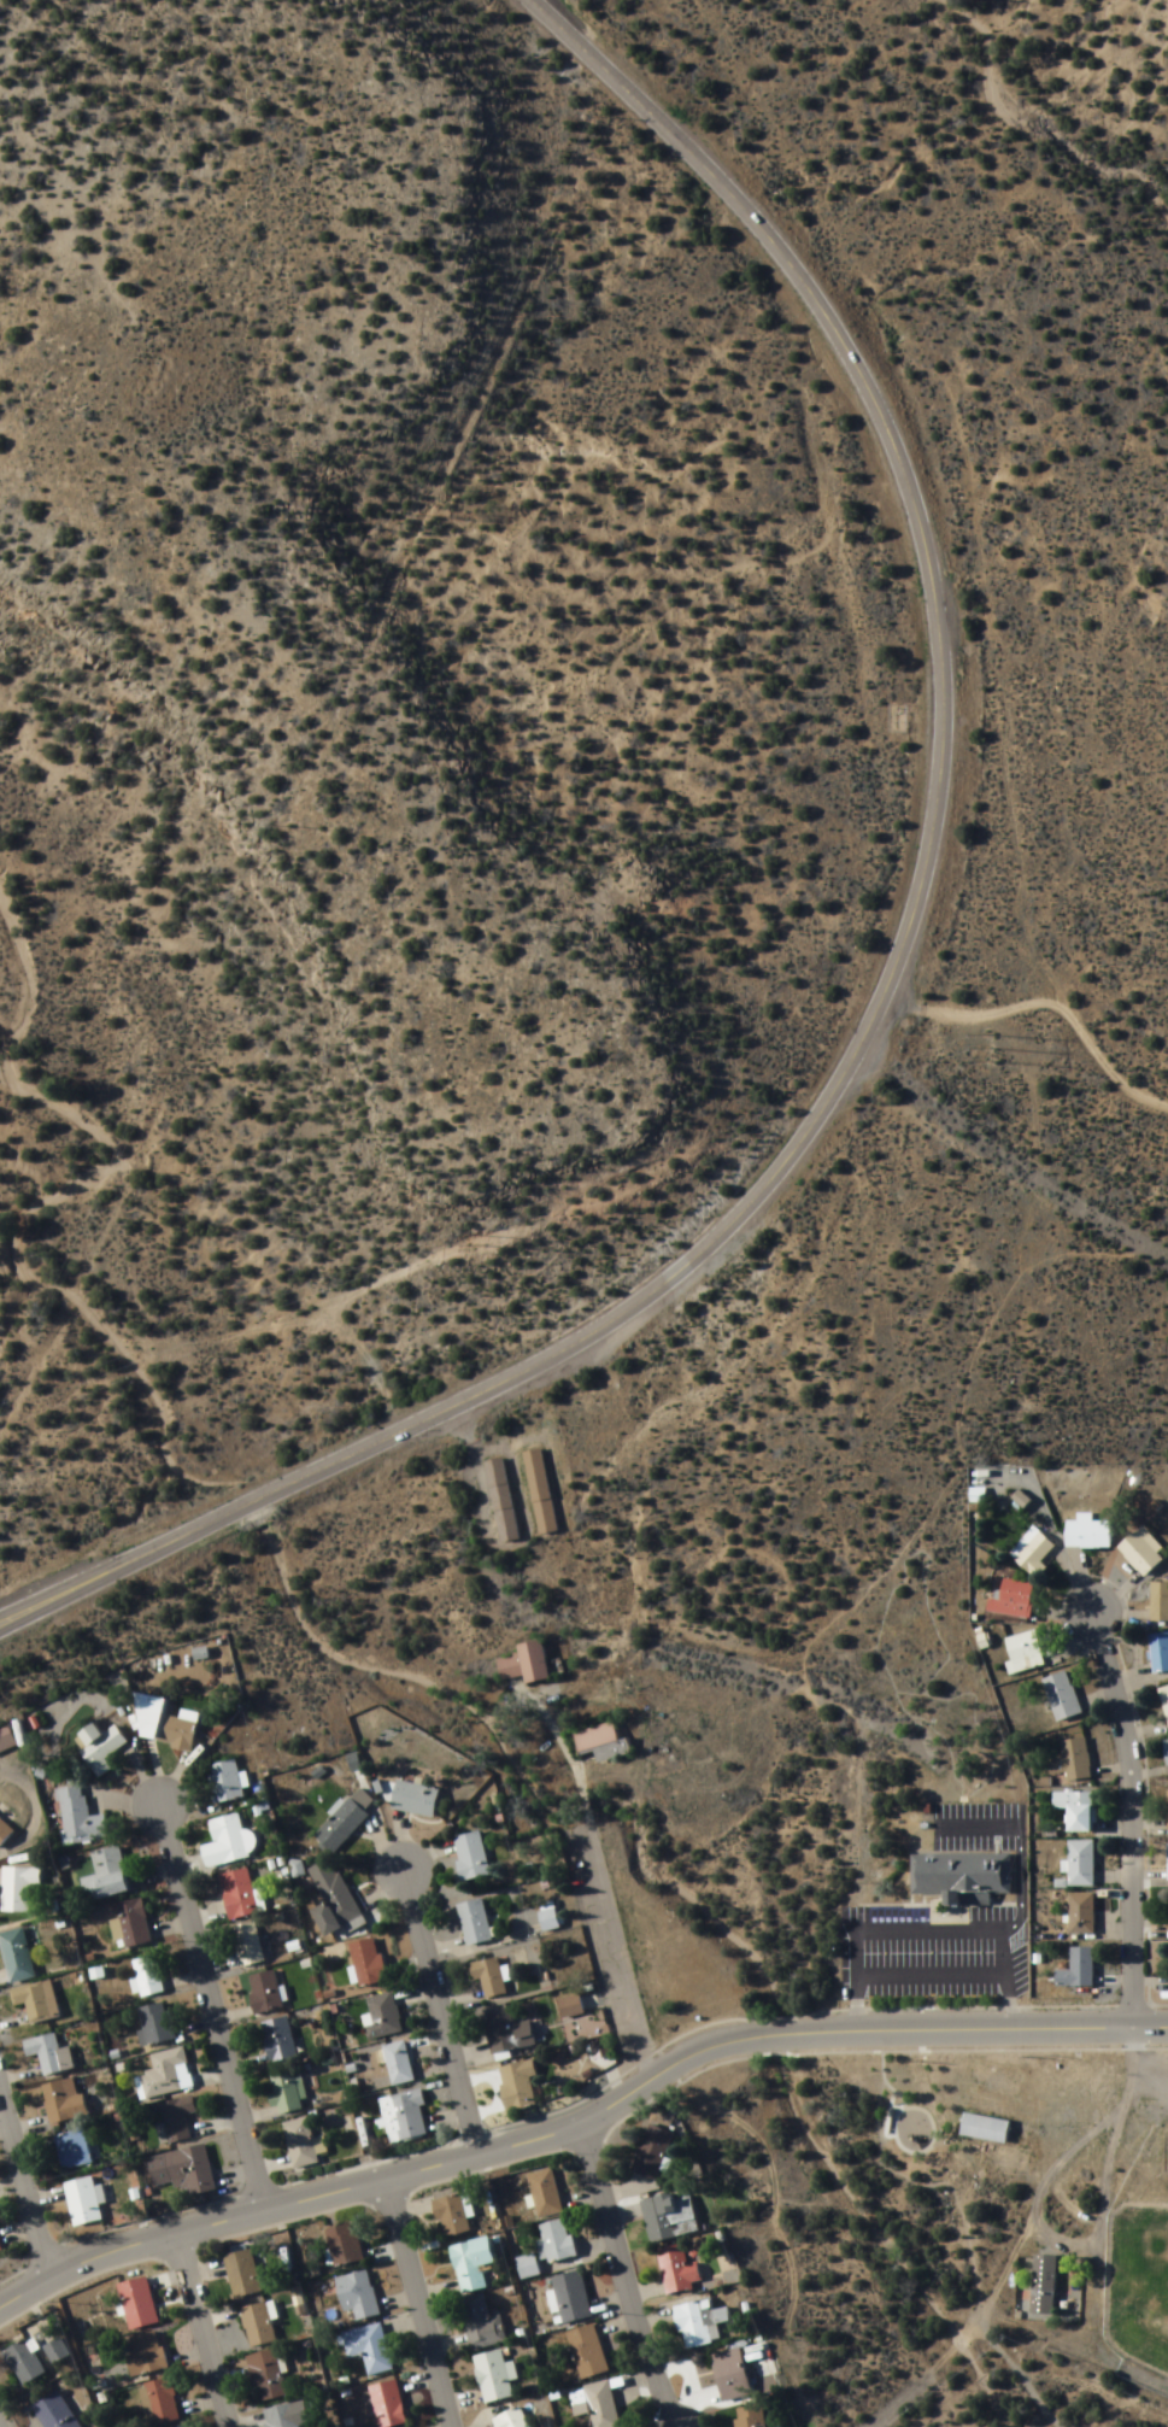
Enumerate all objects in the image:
road: (1003, 717)
road: (893, 980)
road: (1044, 1002)
building: (538, 1491)
building: (498, 1500)
building: (1086, 1534)
building: (1031, 1552)
building: (1139, 1554)
building: (1010, 1599)
building: (1158, 1602)
building: (1021, 1653)
building: (1158, 1653)
building: (524, 1664)
building: (1060, 1696)
building: (1164, 1704)
building: (147, 1717)
building: (176, 1731)
building: (5, 1742)
building: (600, 1743)
building: (99, 1748)
building: (1166, 1752)
building: (1074, 1761)
building: (223, 1782)
building: (413, 1799)
building: (1074, 1810)
building: (1166, 1812)
building: (77, 1818)
road: (1132, 1819)
building: (342, 1822)
building: (4, 1833)
building: (225, 1842)
building: (470, 1857)
building: (1166, 1863)
building: (1079, 1864)
building: (958, 1874)
building: (104, 1876)
building: (16, 1888)
building: (237, 1895)
building: (331, 1899)
building: (1079, 1913)
building: (1167, 1915)
building: (547, 1921)
building: (131, 1923)
building: (473, 1923)
building: (247, 1946)
road: (620, 1947)
parking lot: (933, 1953)
building: (16, 1957)
building: (366, 1962)
building: (1075, 1970)
building: (146, 1977)
building: (487, 1977)
building: (263, 1994)
building: (35, 2001)
building: (569, 2007)
road: (212, 2009)
road: (442, 2016)
building: (381, 2017)
building: (155, 2024)
building: (505, 2032)
building: (277, 2040)
building: (45, 2054)
building: (398, 2064)
building: (164, 2076)
building: (515, 2087)
building: (286, 2093)
building: (63, 2103)
building: (405, 2115)
building: (176, 2120)
road: (579, 2123)
building: (976, 2123)
building: (303, 2145)
building: (71, 2150)
building: (651, 2153)
building: (189, 2173)
road: (25, 2186)
building: (544, 2194)
building: (81, 2203)
building: (451, 2218)
building: (667, 2218)
building: (554, 2241)
building: (342, 2245)
building: (0, 2256)
building: (470, 2264)
building: (675, 2270)
building: (241, 2274)
road: (624, 2275)
building: (1041, 2285)
building: (357, 2297)
building: (570, 2298)
building: (136, 2304)
road: (423, 2304)
building: (480, 2325)
building: (698, 2325)
building: (257, 2326)
road: (203, 2329)
building: (368, 2349)
building: (54, 2352)
building: (586, 2352)
building: (142, 2355)
building: (23, 2363)
building: (729, 2376)
building: (265, 2378)
building: (493, 2378)
building: (162, 2402)
building: (386, 2405)
building: (601, 2405)
building: (53, 2413)
building: (280, 2416)
building: (747, 2417)
building: (510, 2420)

